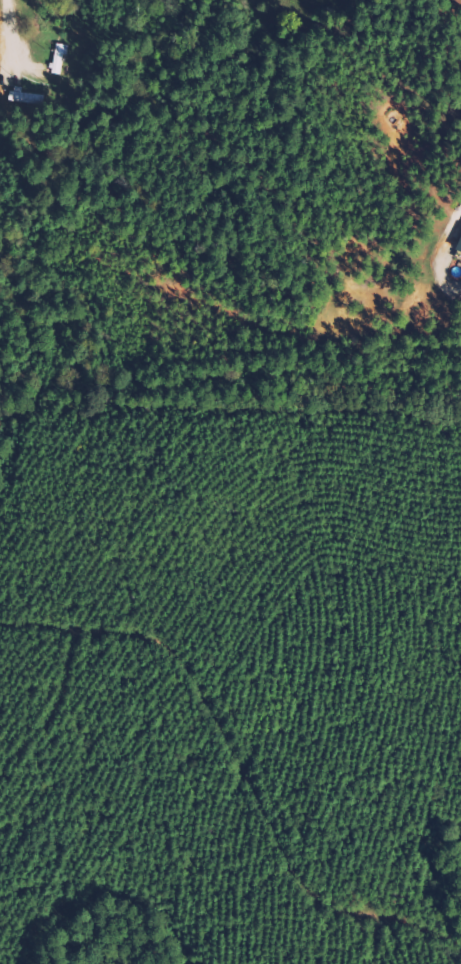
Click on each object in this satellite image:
building: (459, 247)

